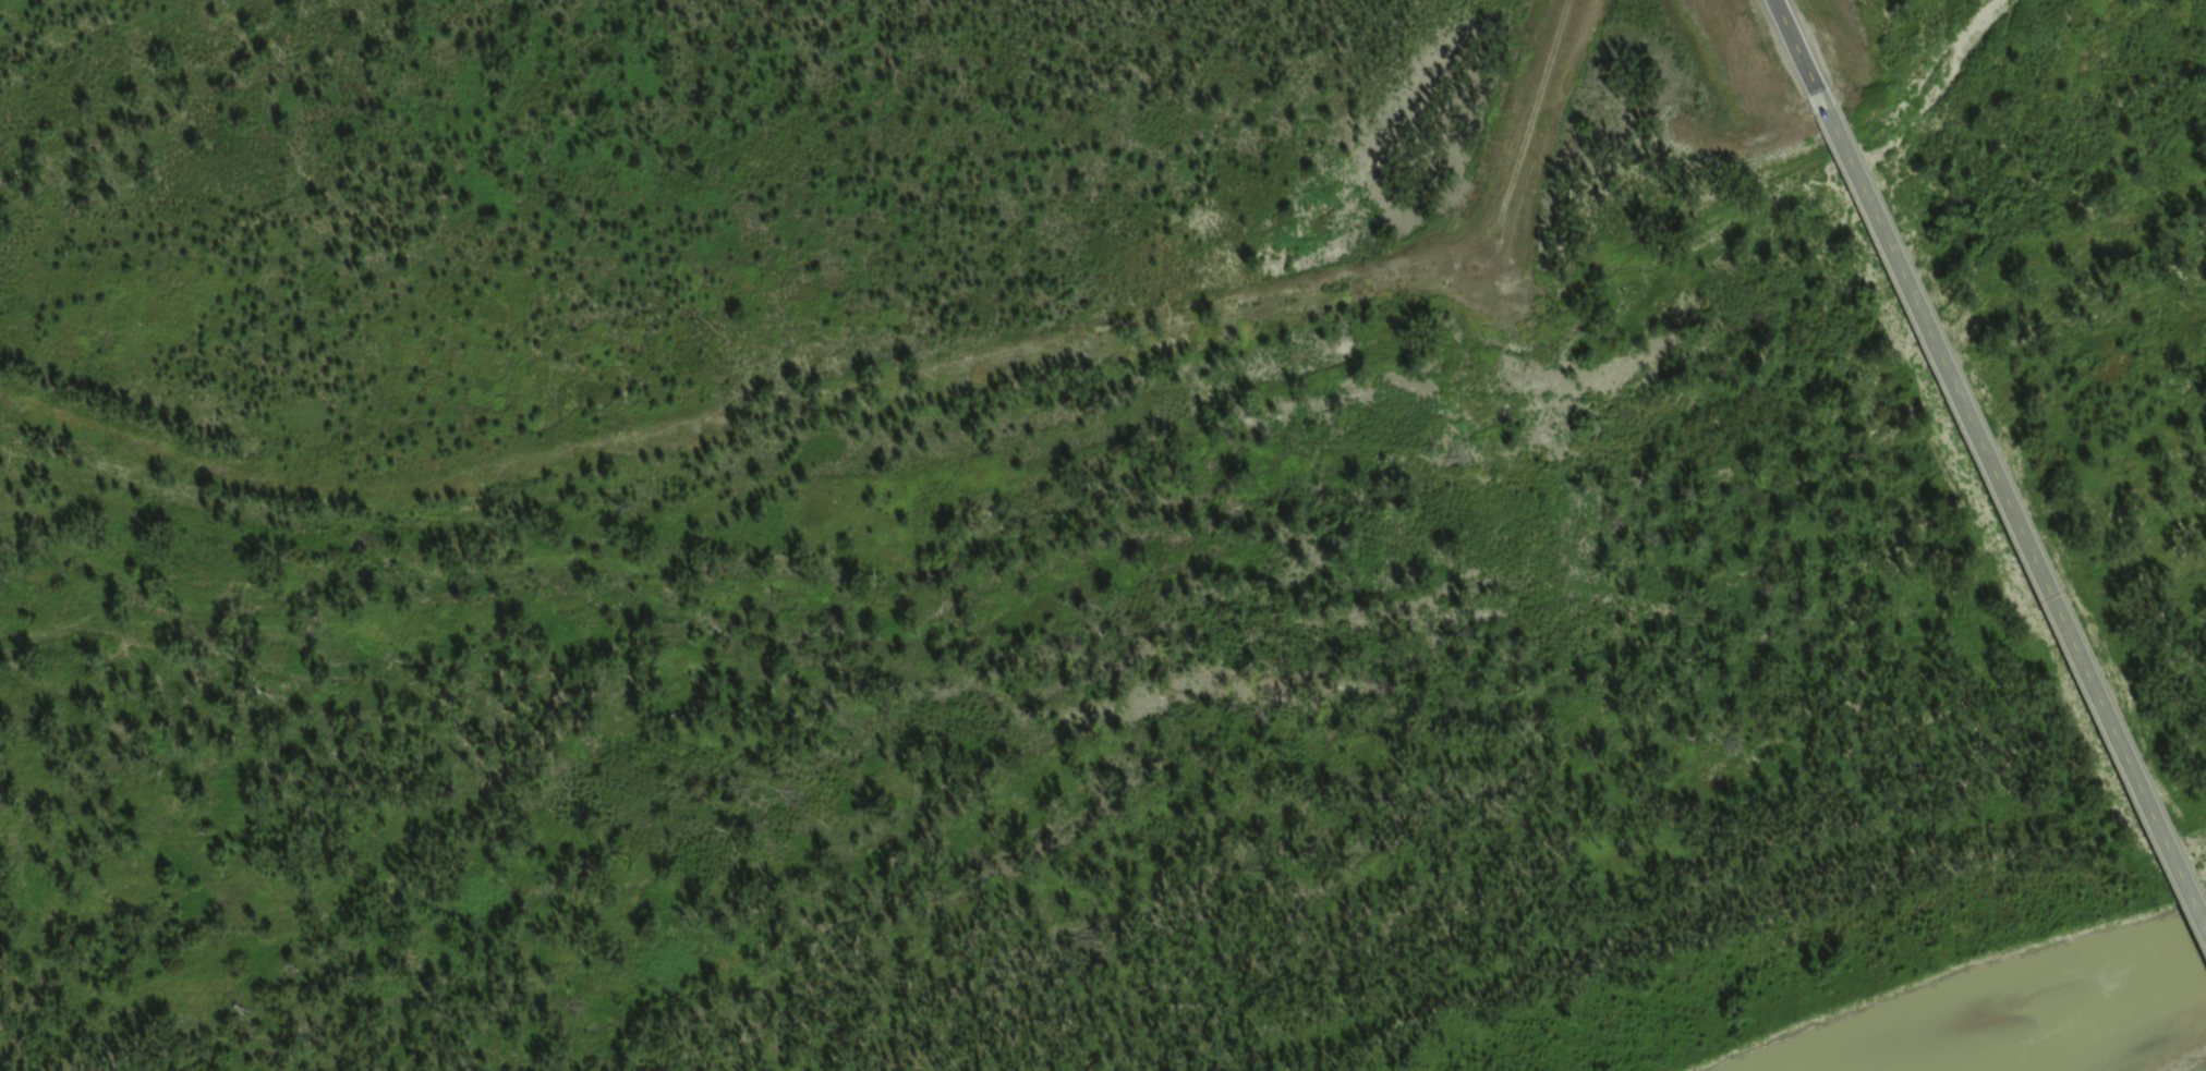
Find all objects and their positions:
road: (1792, 51)
road: (2011, 528)
river: (2052, 1034)

